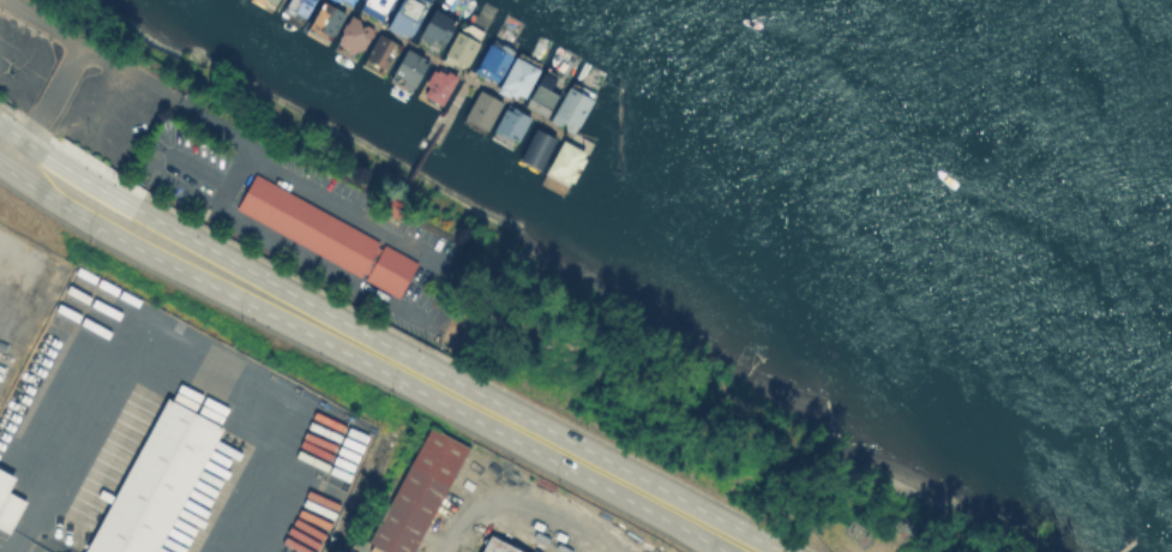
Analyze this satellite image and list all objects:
building: (348, 1)
building: (268, 4)
building: (299, 6)
building: (377, 7)
building: (405, 16)
building: (326, 18)
building: (434, 30)
building: (354, 34)
river: (1093, 44)
building: (459, 48)
road: (91, 50)
building: (381, 50)
building: (493, 60)
building: (408, 68)
pier: (446, 70)
building: (518, 77)
building: (438, 84)
building: (546, 89)
road: (50, 102)
building: (482, 108)
building: (570, 108)
building: (510, 122)
pier: (428, 148)
building: (535, 148)
building: (565, 161)
road: (302, 184)
building: (330, 239)
road: (401, 335)
road: (373, 352)
road: (170, 353)
road: (345, 367)
building: (143, 481)
building: (409, 488)
road: (515, 499)
building: (5, 508)
building: (497, 545)

